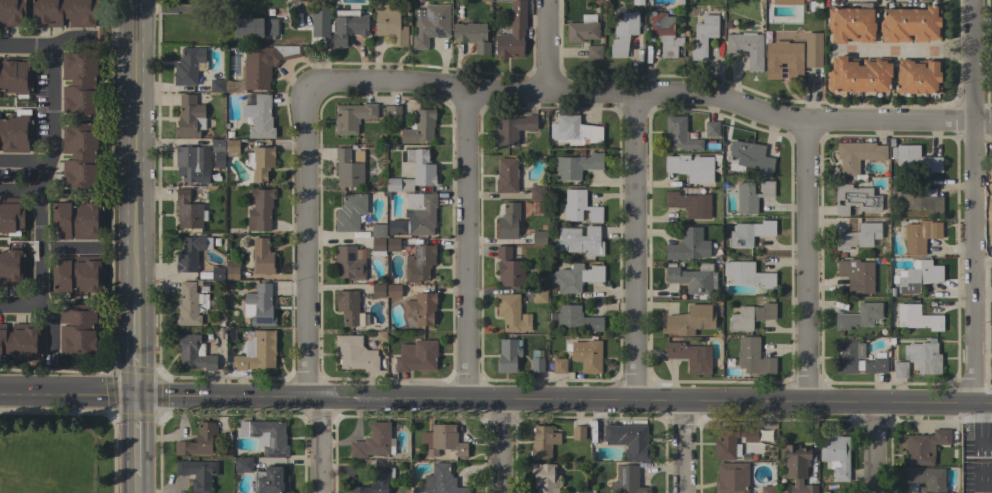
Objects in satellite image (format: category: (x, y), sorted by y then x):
building: (637, 2)
building: (679, 2)
building: (788, 2)
building: (815, 6)
building: (11, 12)
building: (65, 12)
building: (270, 12)
building: (587, 18)
building: (319, 21)
building: (429, 24)
building: (851, 24)
building: (910, 24)
building: (347, 25)
building: (390, 25)
building: (727, 25)
building: (254, 26)
building: (581, 31)
building: (512, 32)
building: (623, 33)
building: (665, 34)
building: (472, 35)
building: (703, 36)
road: (953, 43)
road: (543, 44)
road: (46, 46)
building: (746, 48)
building: (812, 49)
road: (888, 50)
building: (593, 52)
road: (954, 56)
building: (783, 59)
building: (189, 66)
building: (260, 66)
building: (859, 74)
building: (16, 76)
building: (918, 76)
building: (79, 82)
building: (216, 83)
road: (646, 91)
building: (393, 111)
building: (352, 116)
building: (189, 117)
building: (259, 117)
building: (419, 127)
building: (513, 128)
building: (712, 129)
building: (575, 130)
building: (15, 133)
building: (680, 134)
building: (228, 135)
building: (232, 148)
building: (217, 151)
building: (857, 154)
building: (79, 156)
building: (750, 156)
building: (913, 158)
building: (723, 161)
road: (24, 162)
building: (259, 162)
building: (192, 163)
building: (576, 165)
building: (349, 167)
building: (690, 167)
building: (414, 173)
building: (506, 175)
building: (859, 178)
road: (20, 189)
building: (537, 192)
building: (751, 196)
building: (855, 198)
building: (915, 198)
road: (970, 202)
road: (38, 203)
building: (689, 204)
building: (579, 207)
building: (260, 209)
building: (188, 211)
building: (350, 211)
building: (421, 214)
building: (11, 215)
building: (76, 219)
building: (509, 221)
building: (394, 227)
building: (750, 232)
building: (919, 236)
building: (539, 237)
building: (858, 237)
building: (377, 239)
building: (581, 240)
building: (392, 244)
road: (468, 244)
building: (688, 245)
road: (135, 246)
road: (68, 247)
road: (635, 247)
building: (191, 252)
building: (262, 257)
building: (716, 259)
road: (803, 261)
building: (349, 262)
road: (981, 262)
building: (419, 263)
building: (12, 266)
building: (201, 266)
building: (509, 267)
building: (231, 270)
building: (217, 273)
building: (747, 274)
building: (78, 275)
building: (856, 275)
building: (918, 276)
building: (575, 277)
building: (693, 278)
building: (203, 288)
building: (378, 290)
building: (393, 291)
road: (309, 293)
building: (931, 294)
building: (539, 296)
road: (18, 300)
building: (190, 305)
building: (259, 306)
building: (349, 308)
building: (420, 308)
building: (511, 313)
building: (751, 316)
building: (859, 316)
building: (916, 317)
building: (575, 318)
building: (690, 320)
building: (78, 330)
building: (381, 336)
building: (21, 343)
building: (257, 351)
building: (193, 352)
building: (355, 354)
building: (508, 355)
building: (691, 355)
building: (416, 356)
building: (587, 356)
building: (849, 356)
building: (923, 356)
building: (753, 357)
building: (991, 357)
building: (536, 361)
building: (559, 365)
building: (875, 365)
building: (900, 370)
traffic signals: (137, 394)
road: (435, 402)
road: (931, 403)
building: (578, 433)
building: (750, 435)
building: (266, 436)
building: (442, 440)
building: (629, 440)
building: (197, 441)
building: (372, 441)
building: (543, 442)
building: (226, 443)
building: (727, 443)
road: (501, 447)
road: (681, 447)
road: (872, 447)
building: (924, 447)
road: (981, 448)
road: (987, 451)
building: (835, 455)
building: (243, 464)
building: (797, 468)
building: (198, 474)
building: (543, 477)
building: (731, 478)
building: (926, 478)
building: (271, 479)
building: (627, 480)
building: (376, 481)
building: (441, 481)
building: (767, 489)
building: (583, 491)

